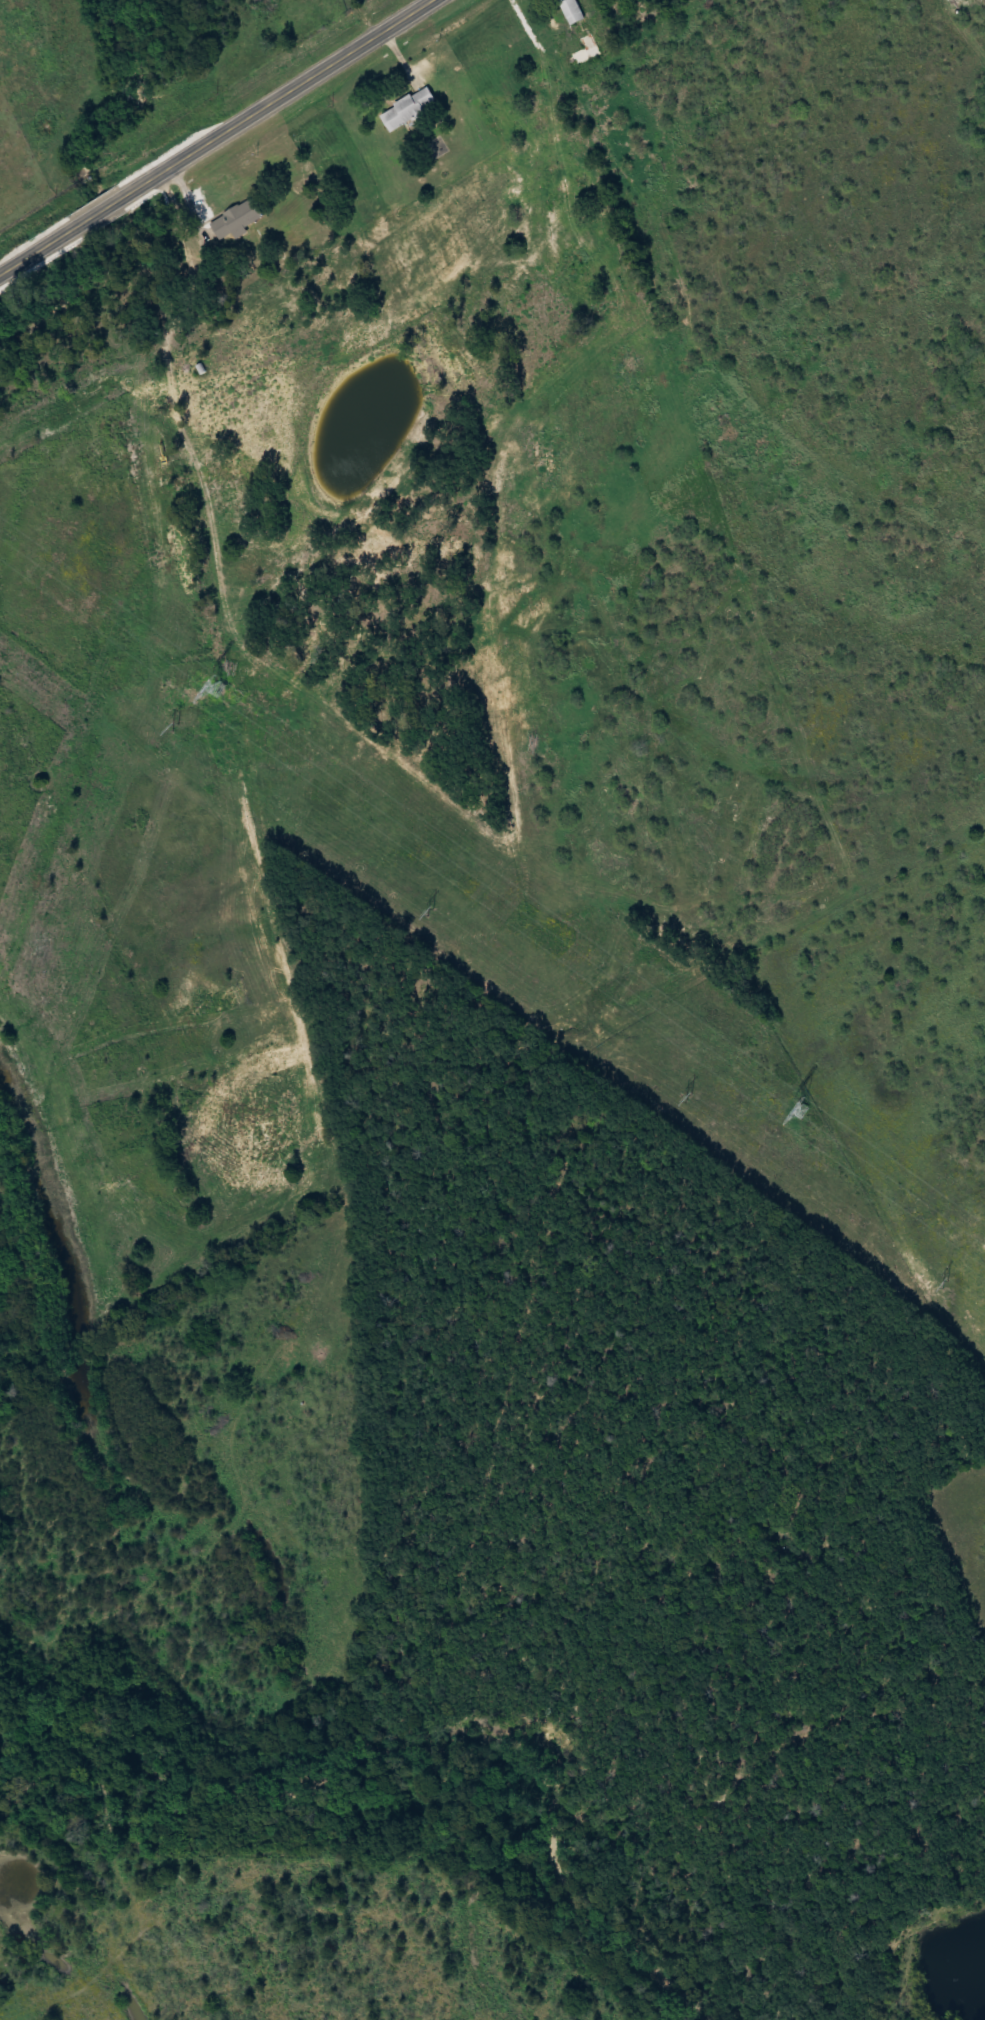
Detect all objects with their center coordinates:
building: (570, 11)
building: (585, 50)
building: (407, 109)
road: (211, 136)
building: (235, 221)
power tower: (221, 688)
power tower: (177, 728)
power tower: (430, 911)
power tower: (689, 1098)
power tower: (803, 1111)
power tower: (945, 1285)

